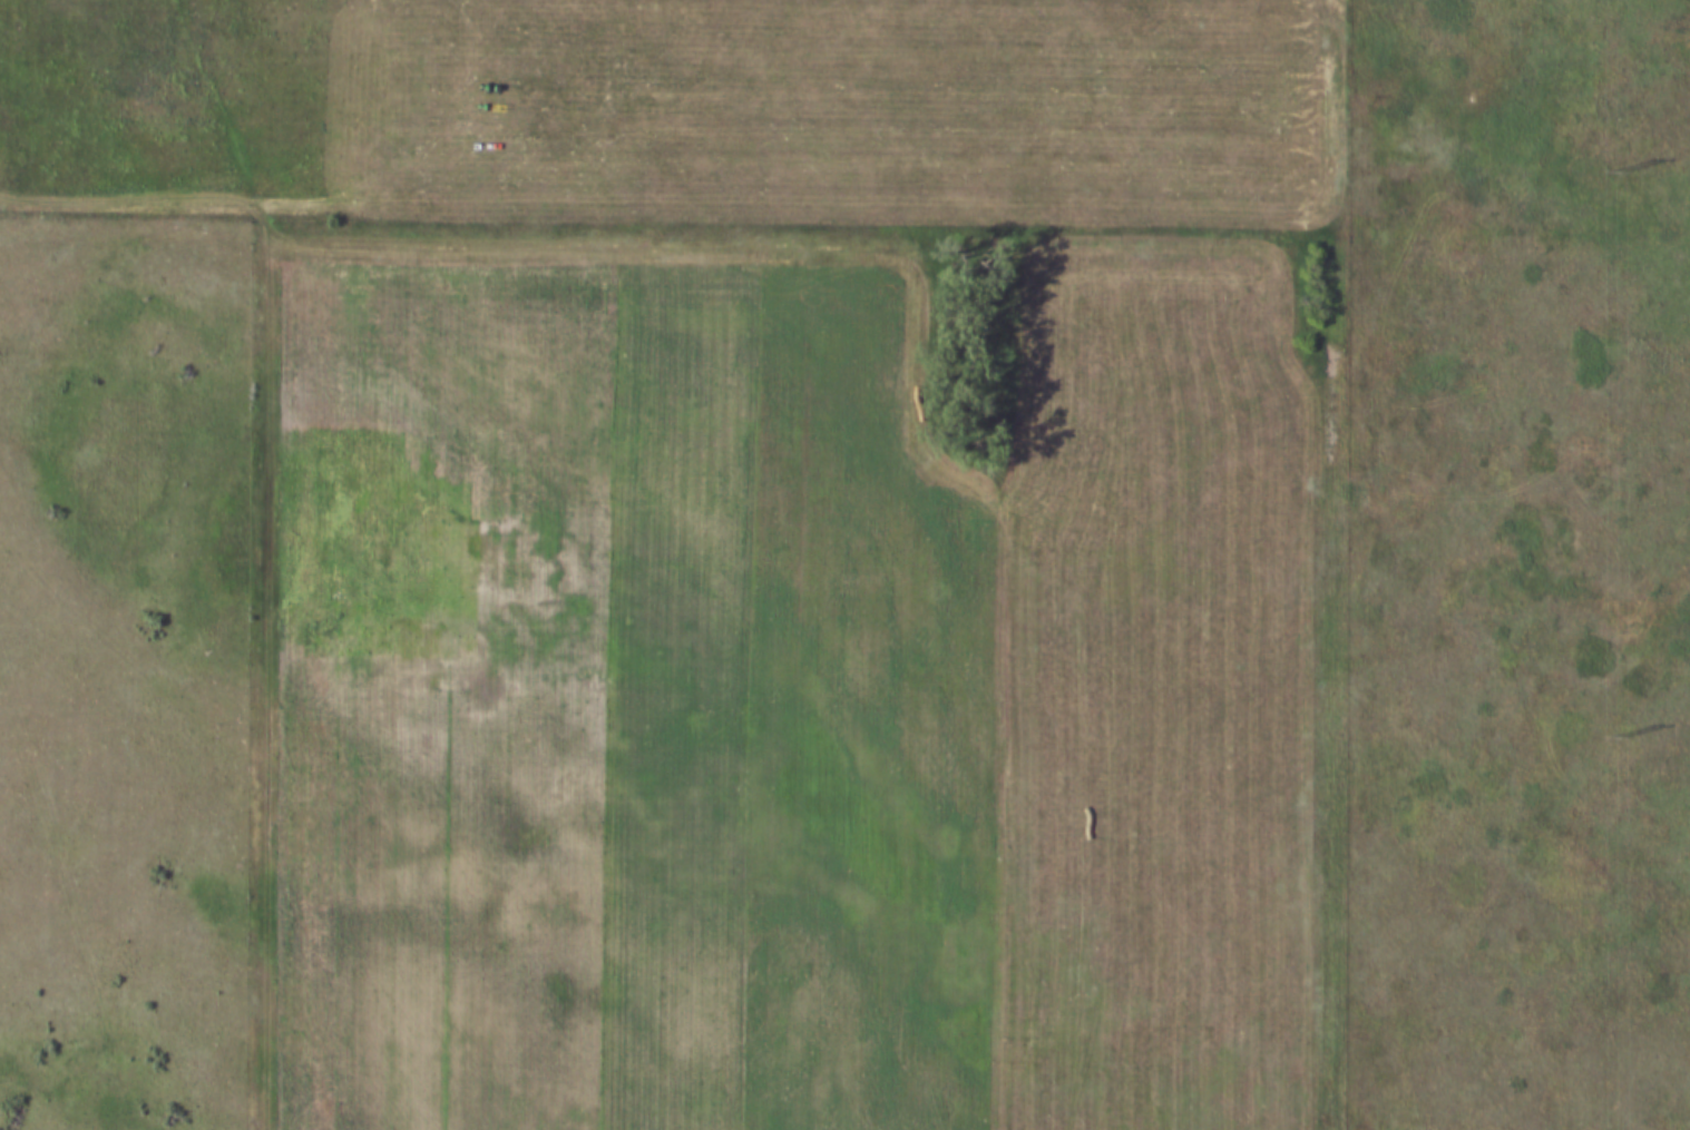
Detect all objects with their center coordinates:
power tower: (1619, 169)
power tower: (1619, 737)

